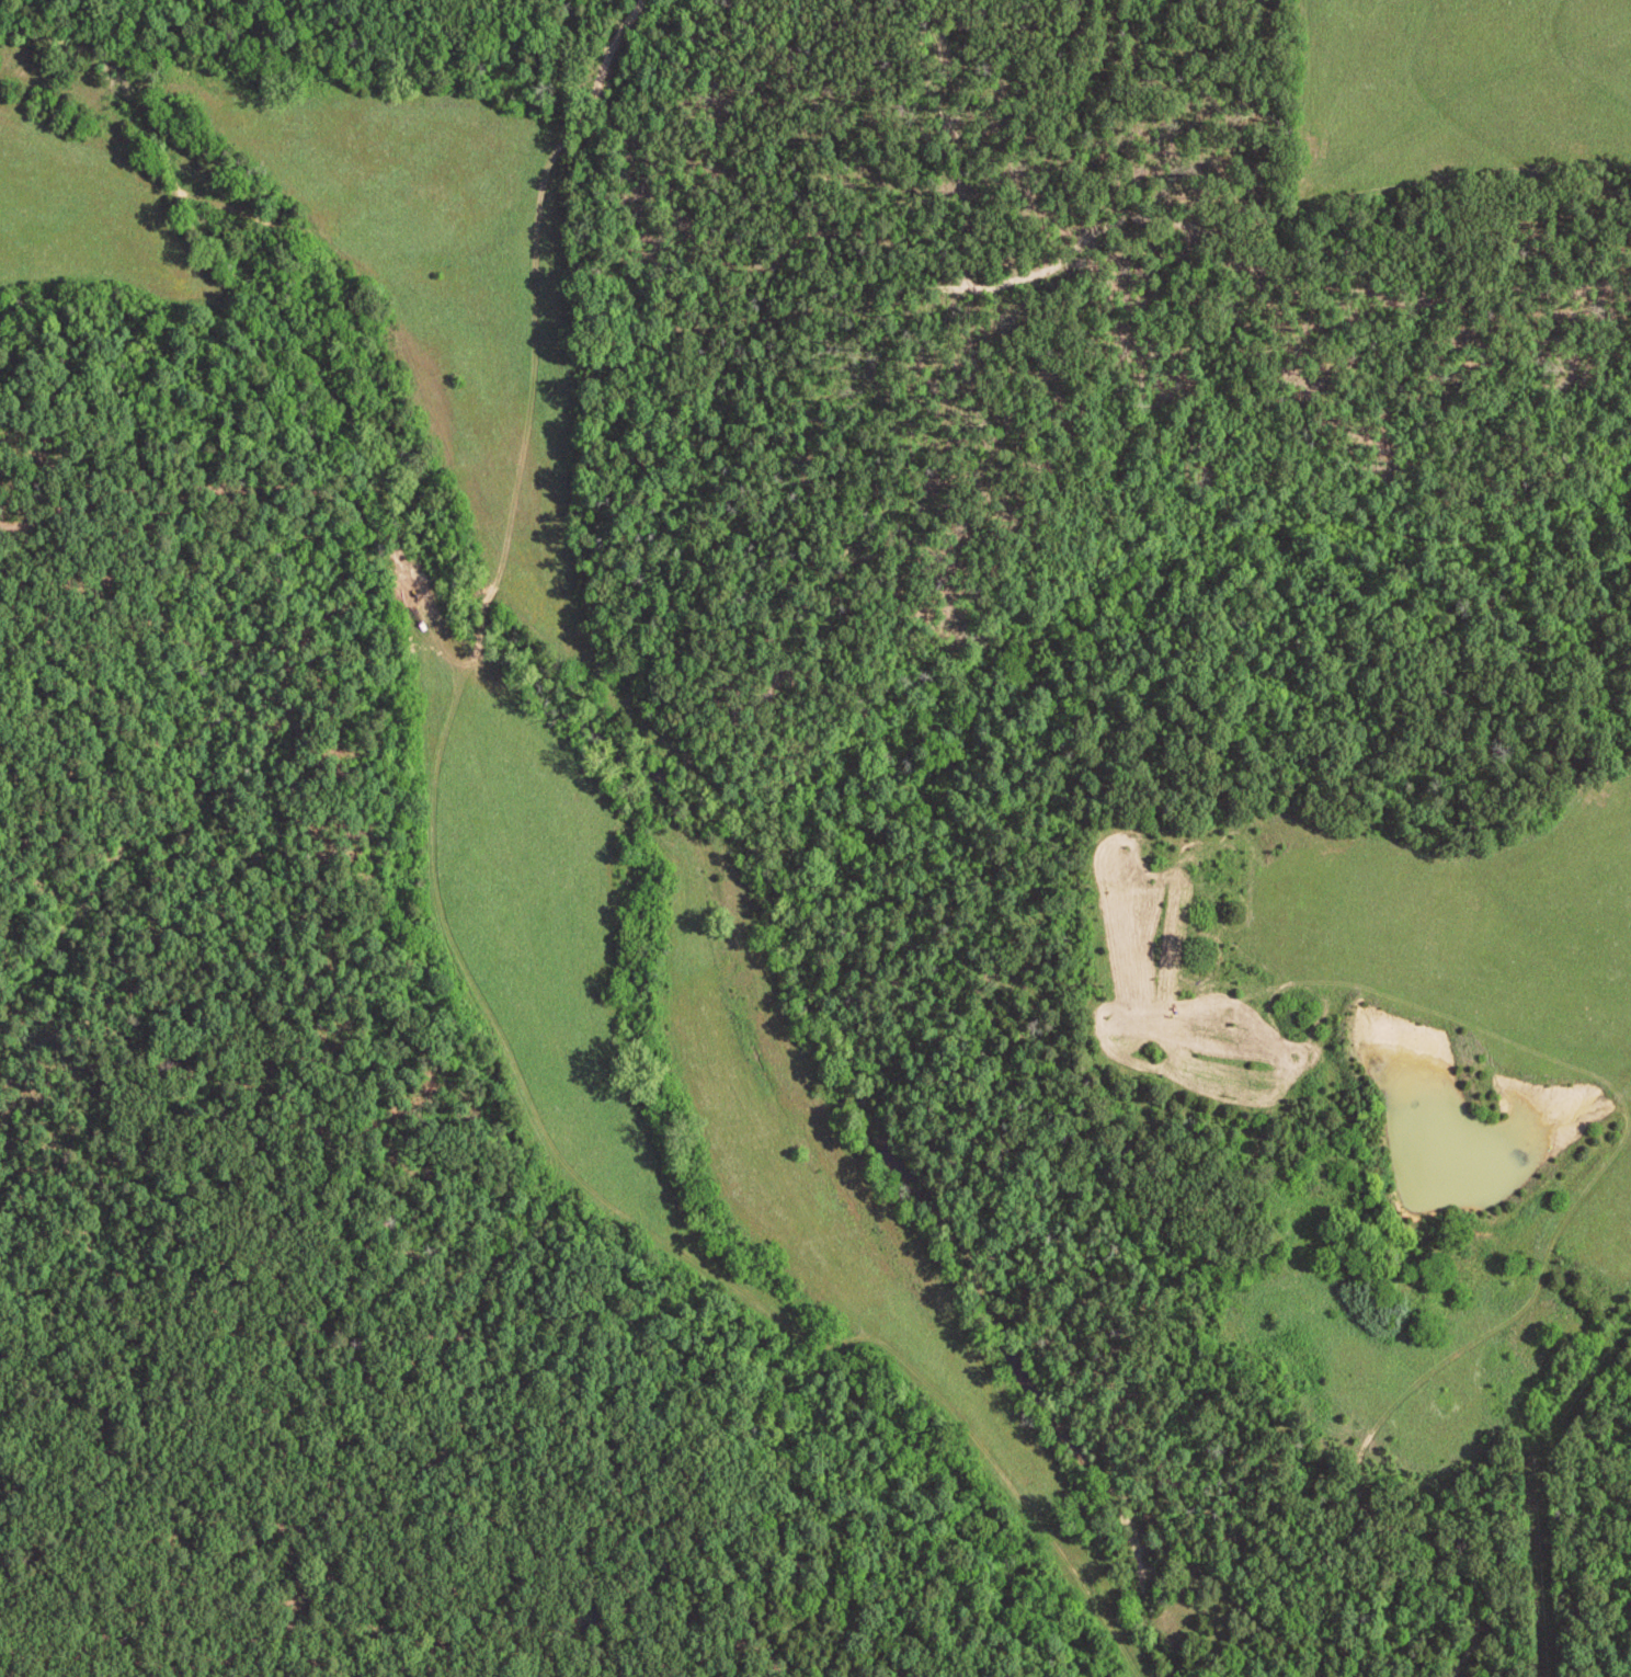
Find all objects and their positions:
road: (1515, 1321)

